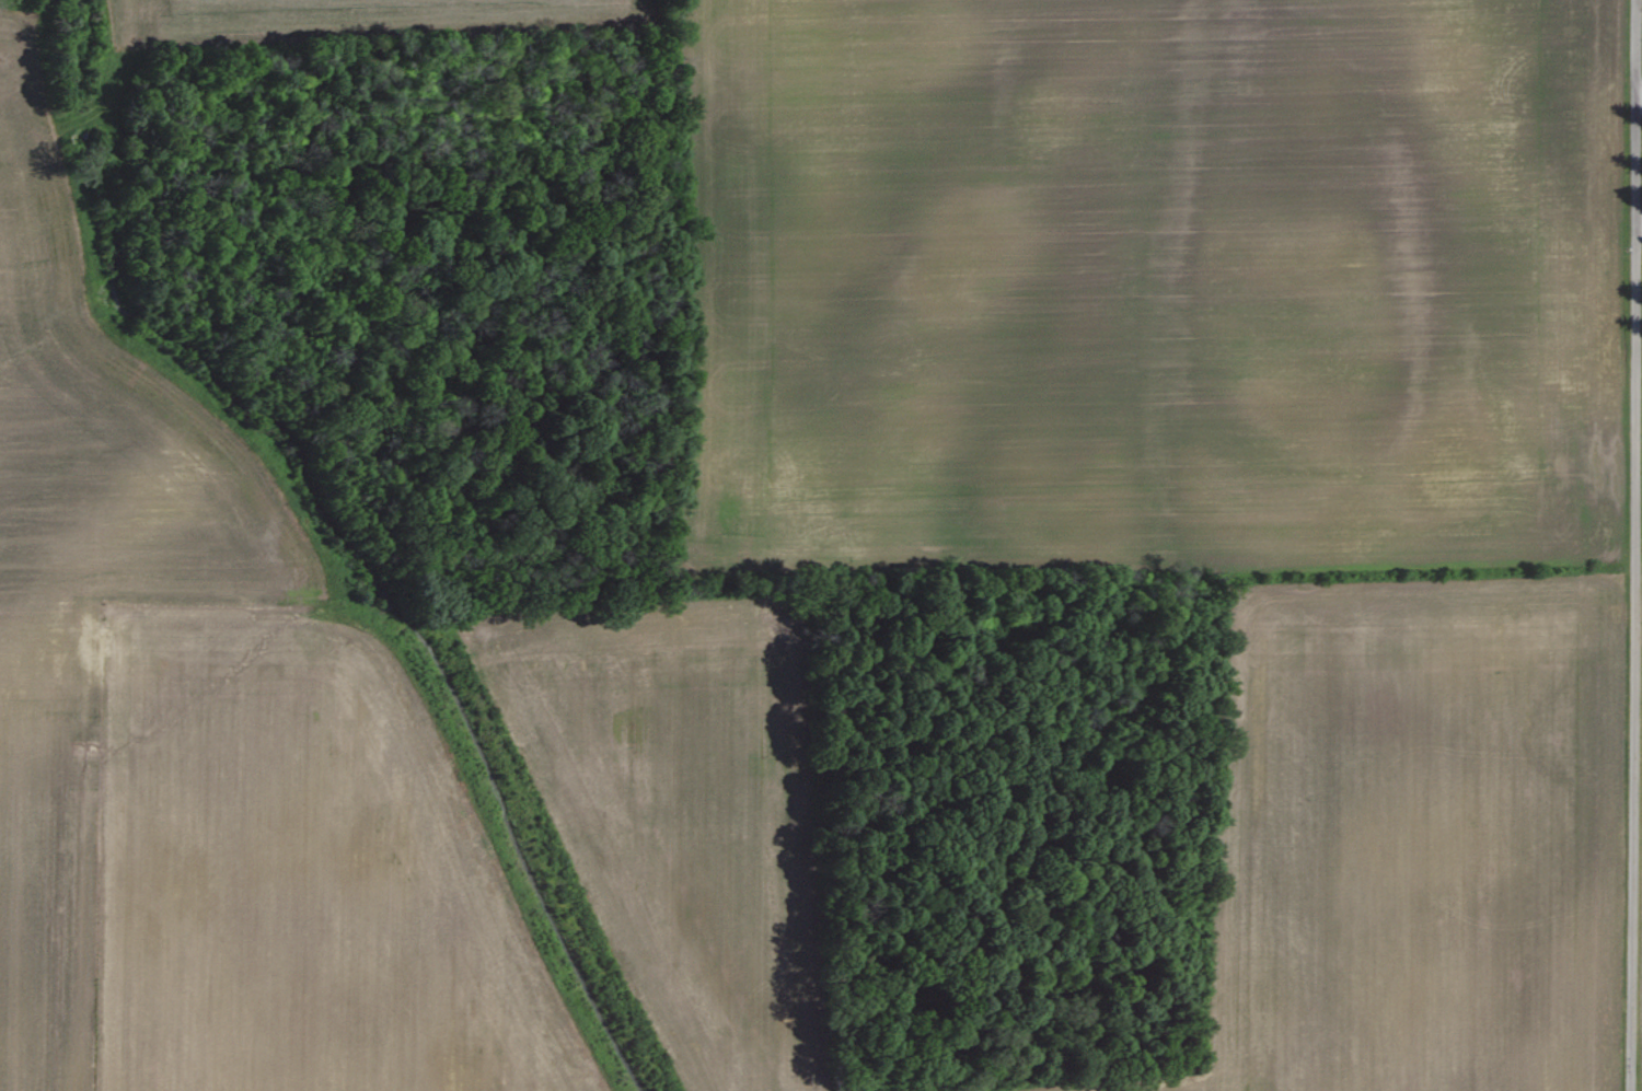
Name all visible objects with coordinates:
road: (1635, 798)

